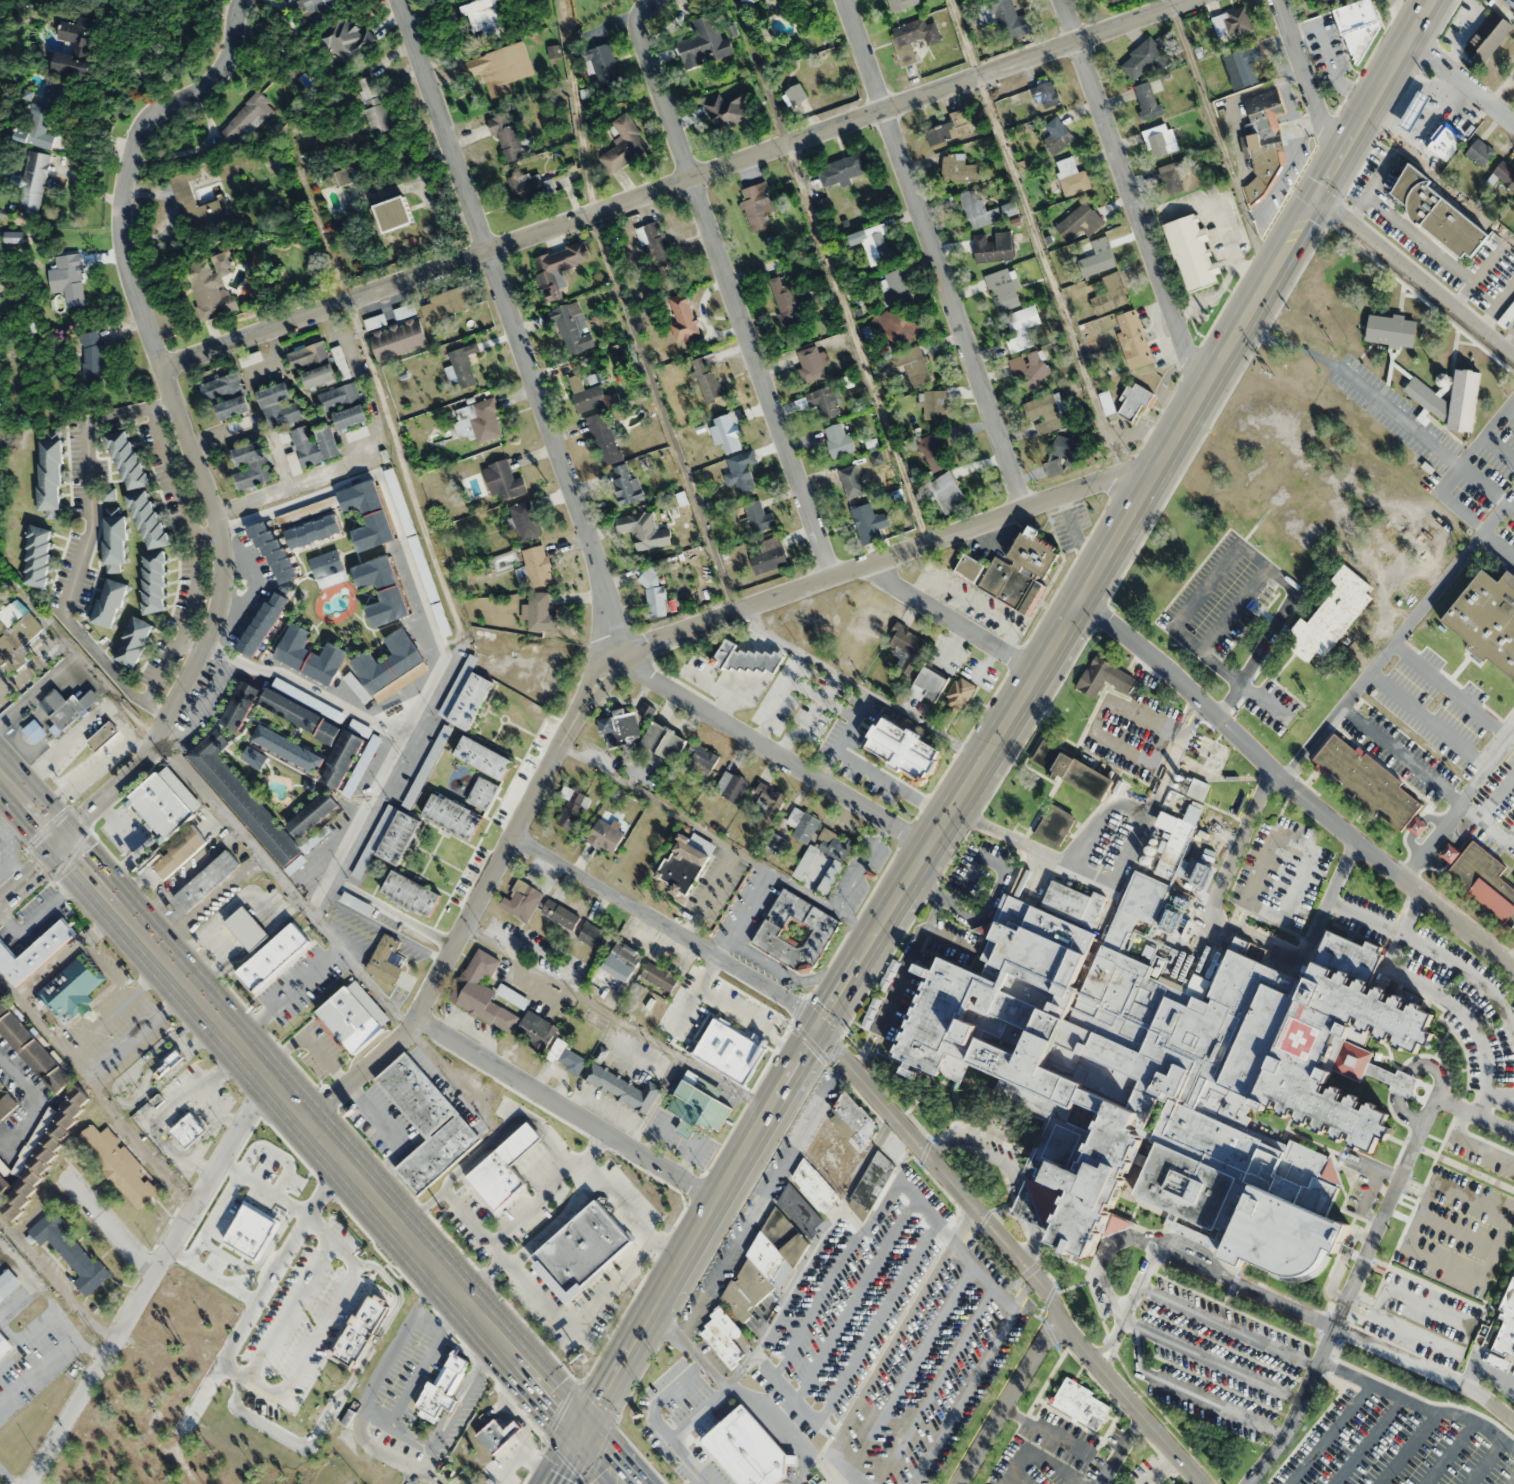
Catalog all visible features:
building: (1326, 0)
building: (1107, 1)
road: (1512, 1)
road: (643, 3)
building: (901, 4)
building: (317, 5)
road: (1402, 15)
building: (484, 20)
building: (1010, 20)
building: (1476, 21)
building: (1231, 23)
building: (1359, 25)
road: (1464, 33)
building: (913, 38)
building: (347, 40)
building: (704, 43)
building: (76, 46)
building: (1144, 58)
building: (604, 65)
building: (1242, 66)
building: (500, 68)
building: (1512, 74)
road: (1305, 76)
building: (809, 80)
road: (1461, 81)
building: (1047, 94)
road: (1376, 95)
building: (1147, 99)
building: (372, 106)
building: (726, 109)
building: (1415, 110)
building: (42, 115)
building: (245, 119)
building: (949, 128)
building: (1057, 135)
building: (507, 138)
building: (1161, 139)
road: (1219, 140)
building: (1444, 142)
building: (623, 144)
building: (1265, 144)
building: (1479, 152)
building: (843, 168)
building: (958, 169)
building: (1505, 173)
building: (345, 176)
building: (1072, 176)
building: (1172, 176)
road: (671, 181)
road: (1374, 181)
road: (1438, 181)
building: (33, 182)
building: (530, 186)
traffic signals: (1320, 192)
road: (1132, 194)
building: (756, 204)
building: (196, 207)
building: (1009, 208)
building: (978, 210)
building: (394, 214)
building: (1438, 214)
building: (1079, 221)
road: (1034, 236)
road: (1420, 237)
building: (655, 241)
building: (873, 243)
building: (993, 247)
building: (1192, 251)
road: (933, 253)
building: (1099, 255)
road: (830, 270)
road: (1480, 271)
building: (550, 273)
road: (1417, 273)
building: (71, 280)
building: (209, 288)
building: (1003, 289)
road: (730, 292)
building: (1111, 293)
building: (791, 298)
building: (446, 304)
road: (1497, 307)
building: (894, 309)
building: (683, 316)
building: (570, 327)
building: (1021, 327)
building: (1390, 330)
building: (398, 339)
building: (1133, 339)
building: (308, 355)
building: (91, 359)
building: (341, 362)
building: (464, 364)
building: (811, 364)
building: (913, 364)
building: (1031, 368)
building: (319, 376)
building: (707, 379)
building: (221, 387)
building: (585, 394)
building: (339, 397)
building: (1426, 397)
building: (1134, 401)
road: (160, 402)
building: (824, 402)
building: (1106, 402)
building: (933, 404)
building: (280, 405)
building: (232, 407)
building: (1043, 412)
building: (351, 417)
building: (478, 420)
road: (180, 421)
road: (156, 431)
building: (727, 432)
building: (603, 437)
building: (839, 440)
building: (314, 444)
road: (673, 447)
building: (934, 451)
building: (1065, 453)
building: (126, 460)
building: (252, 465)
building: (740, 473)
building: (50, 474)
building: (504, 481)
building: (851, 481)
building: (625, 484)
building: (947, 492)
road: (1010, 511)
building: (403, 512)
building: (368, 515)
building: (758, 516)
building: (147, 519)
building: (525, 520)
building: (869, 522)
building: (644, 530)
building: (314, 531)
road: (204, 535)
building: (114, 539)
building: (415, 547)
road: (429, 549)
building: (273, 553)
building: (37, 556)
building: (768, 559)
building: (326, 564)
building: (537, 566)
building: (969, 568)
building: (1022, 572)
building: (153, 582)
building: (382, 590)
road: (603, 595)
building: (655, 596)
building: (109, 603)
road: (938, 606)
building: (541, 612)
road: (723, 613)
road: (1074, 613)
building: (1330, 615)
building: (1487, 619)
building: (263, 624)
road: (1399, 632)
building: (16, 636)
building: (133, 642)
building: (906, 646)
building: (310, 655)
building: (742, 657)
road: (32, 665)
building: (390, 666)
road: (111, 669)
building: (1104, 677)
building: (927, 685)
building: (465, 700)
building: (954, 701)
building: (240, 706)
building: (67, 707)
building: (300, 716)
road: (1097, 727)
building: (619, 728)
building: (34, 731)
building: (103, 735)
building: (662, 741)
building: (286, 749)
building: (903, 749)
road: (773, 752)
building: (700, 756)
building: (253, 757)
road: (1171, 757)
building: (341, 759)
building: (484, 759)
building: (427, 766)
building: (1072, 771)
building: (1371, 785)
building: (730, 786)
road: (1298, 787)
building: (1198, 789)
building: (482, 793)
building: (165, 802)
building: (246, 802)
building: (765, 802)
road: (1457, 803)
road: (1131, 804)
road: (31, 808)
building: (572, 810)
building: (312, 815)
building: (451, 816)
building: (802, 824)
building: (1055, 825)
road: (238, 831)
building: (605, 836)
road: (715, 837)
building: (316, 838)
building: (389, 838)
road: (1297, 843)
traffic signals: (62, 845)
road: (1031, 847)
building: (1149, 850)
storage tank: (1149, 850)
building: (180, 851)
building: (1144, 861)
storage tank: (1144, 861)
building: (683, 864)
building: (834, 866)
road: (862, 866)
road: (31, 872)
building: (1481, 878)
building: (1513, 878)
building: (205, 881)
building: (410, 894)
road: (995, 894)
building: (521, 900)
building: (357, 903)
road: (933, 913)
road: (1409, 913)
building: (559, 914)
road: (666, 927)
building: (246, 928)
building: (795, 931)
road: (1236, 933)
building: (593, 936)
road: (1434, 949)
building: (34, 952)
building: (385, 959)
road: (1509, 960)
building: (619, 962)
building: (659, 976)
road: (899, 977)
building: (276, 986)
building: (71, 988)
building: (483, 991)
road: (287, 995)
building: (694, 997)
road: (1452, 1006)
building: (352, 1017)
road: (614, 1019)
traffic signals: (817, 1028)
building: (535, 1030)
helipad: (1300, 1033)
building: (743, 1046)
building: (32, 1049)
building: (567, 1056)
building: (1165, 1073)
building: (622, 1086)
road: (199, 1087)
road: (353, 1092)
road: (1499, 1096)
road: (32, 1101)
building: (699, 1103)
building: (6, 1104)
road: (218, 1108)
road: (561, 1109)
building: (427, 1122)
building: (189, 1130)
building: (840, 1139)
road: (1473, 1143)
road: (189, 1150)
parking lot: (1480, 1152)
building: (41, 1154)
road: (473, 1156)
road: (1450, 1161)
road: (865, 1162)
road: (343, 1163)
building: (118, 1164)
road: (197, 1164)
road: (1012, 1170)
building: (506, 1171)
road: (943, 1171)
building: (873, 1180)
building: (813, 1186)
road: (1412, 1187)
road: (1366, 1189)
building: (642, 1197)
road: (614, 1199)
road: (759, 1200)
road: (39, 1206)
road: (1413, 1208)
building: (461, 1214)
road: (468, 1215)
road: (1396, 1215)
road: (984, 1216)
road: (852, 1219)
road: (321, 1225)
road: (109, 1226)
road: (557, 1226)
road: (695, 1228)
road: (1459, 1229)
parking lot: (1456, 1232)
building: (230, 1235)
road: (857, 1241)
building: (584, 1249)
building: (70, 1251)
building: (775, 1251)
building: (336, 1253)
building: (509, 1257)
road: (1103, 1258)
road: (1362, 1258)
road: (1489, 1267)
road: (482, 1279)
building: (8, 1281)
road: (150, 1281)
road: (54, 1283)
road: (527, 1284)
building: (315, 1290)
road: (1023, 1291)
road: (1451, 1294)
road: (259, 1297)
road: (855, 1298)
road: (1276, 1300)
road: (1416, 1302)
parking lot: (845, 1303)
road: (1359, 1306)
road: (290, 1309)
road: (904, 1310)
parking lot: (295, 1311)
parking lot: (1421, 1318)
road: (877, 1322)
building: (1507, 1323)
building: (260, 1326)
road: (1226, 1326)
building: (162, 1328)
building: (358, 1328)
road: (319, 1331)
road: (1416, 1332)
building: (722, 1337)
road: (894, 1339)
road: (994, 1339)
building: (4, 1344)
building: (328, 1356)
road: (760, 1356)
parking lot: (38, 1359)
road: (1211, 1360)
building: (195, 1361)
parking lot: (1216, 1362)
road: (704, 1366)
road: (910, 1367)
road: (1485, 1370)
parking lot: (932, 1371)
road: (233, 1372)
road: (417, 1374)
building: (129, 1384)
road: (934, 1385)
building: (443, 1388)
road: (342, 1391)
road: (371, 1391)
road: (1191, 1393)
building: (172, 1397)
road: (451, 1402)
road: (1011, 1402)
road: (1131, 1402)
building: (1079, 1404)
road: (1416, 1404)
road: (696, 1412)
road: (455, 1413)
building: (321, 1414)
building: (256, 1415)
road: (1164, 1416)
road: (655, 1422)
road: (784, 1430)
traffic signals: (580, 1432)
road: (1048, 1434)
road: (1330, 1434)
building: (500, 1436)
road: (1368, 1441)
parking lot: (1399, 1443)
building: (159, 1444)
road: (1405, 1447)
road: (1119, 1448)
building: (748, 1450)
road: (1447, 1452)
road: (1033, 1453)
building: (211, 1457)
road: (826, 1457)
building: (108, 1458)
road: (565, 1458)
road: (794, 1462)
road: (1484, 1462)
building: (300, 1466)
road: (1160, 1469)
road: (1019, 1475)
road: (410, 1476)
building: (68, 1478)
building: (131, 1478)
building: (242, 1481)

